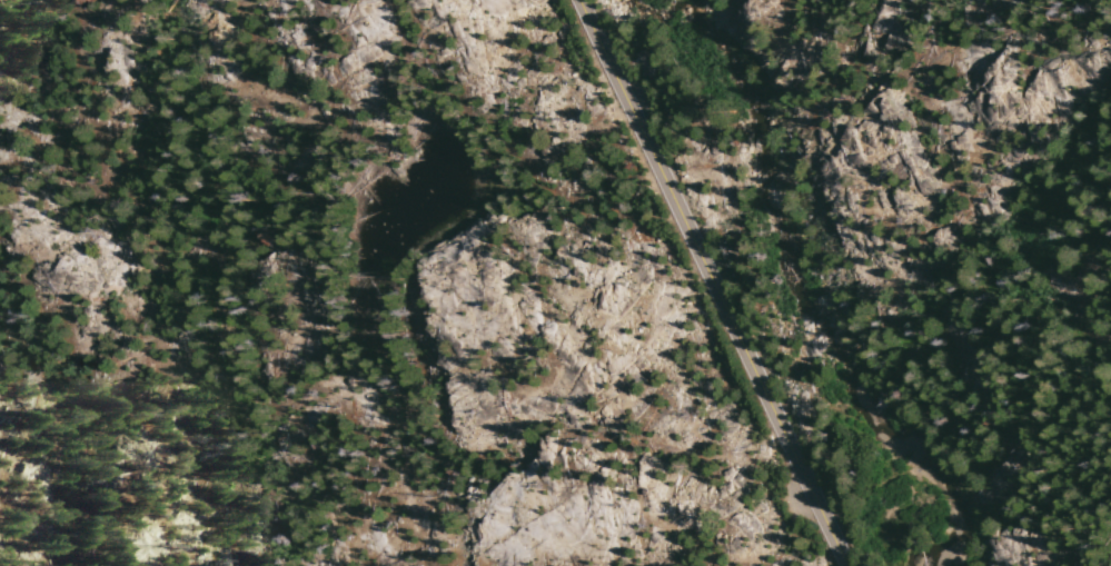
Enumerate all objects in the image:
river: (824, 279)
road: (710, 282)

